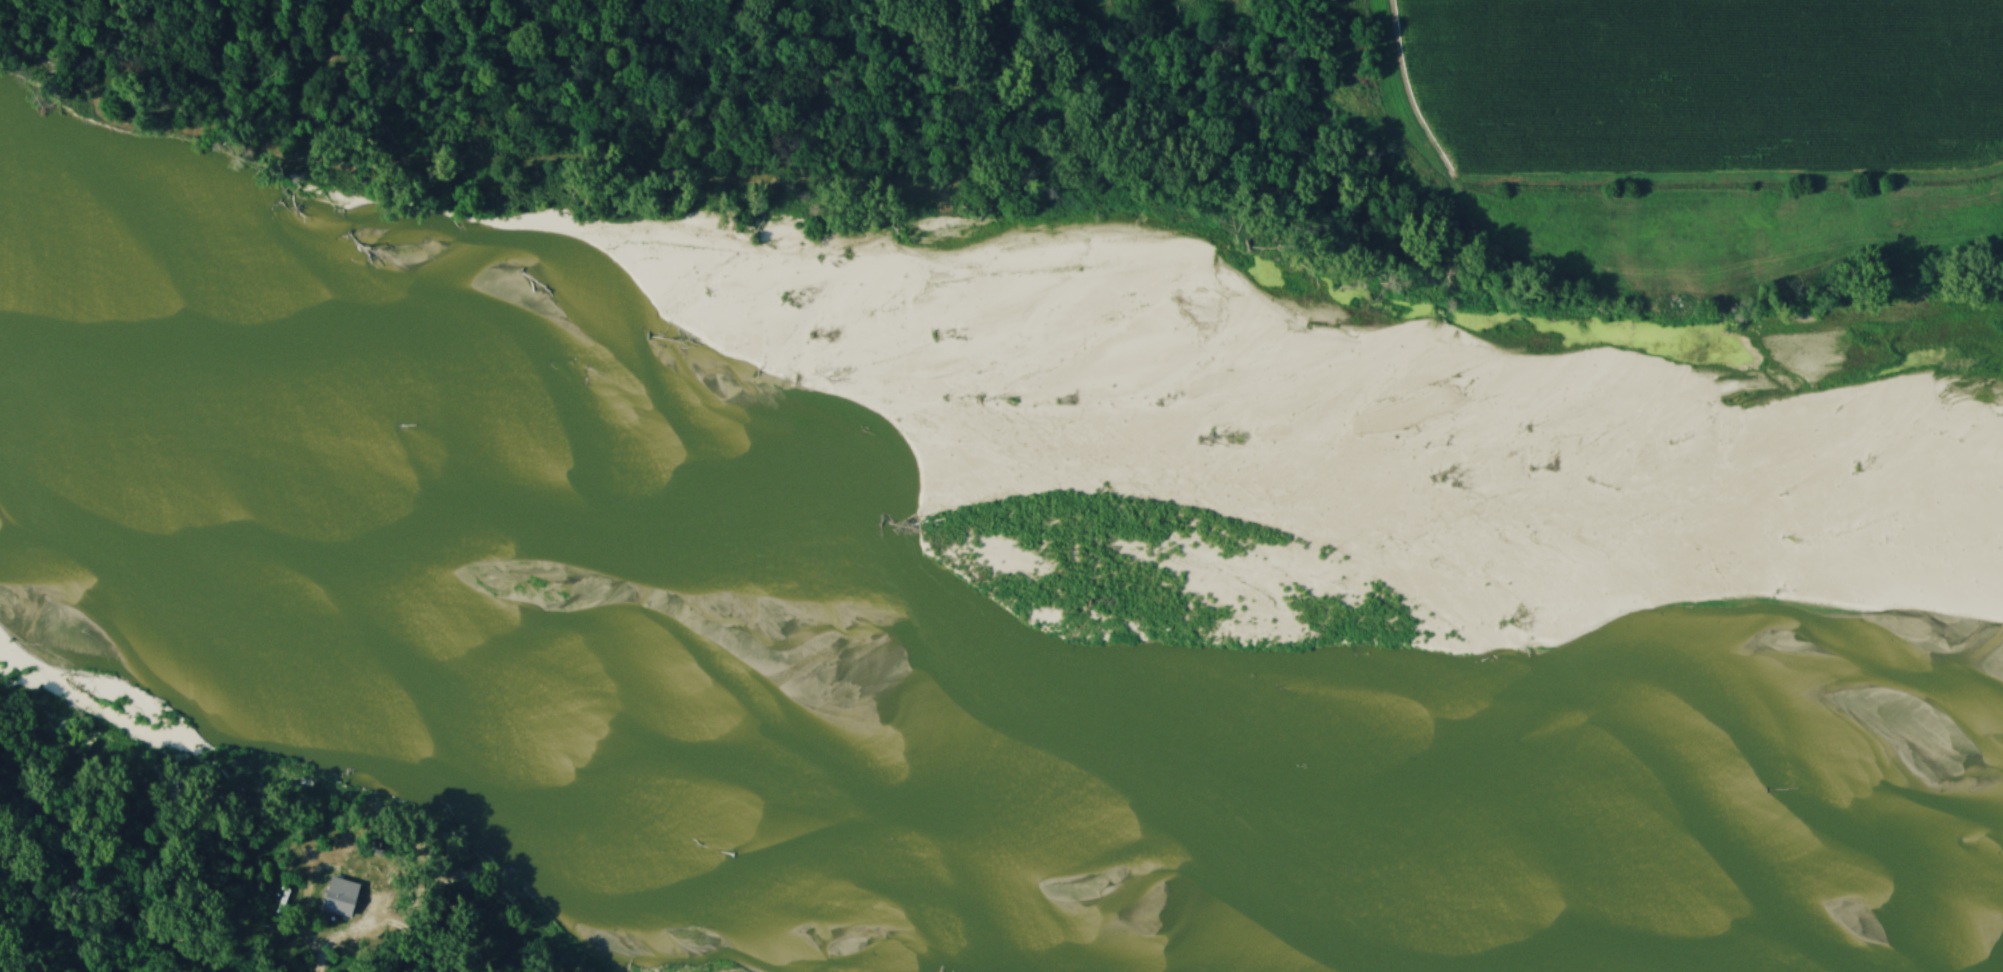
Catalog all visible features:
river: (960, 755)
building: (338, 902)
river: (597, 945)

